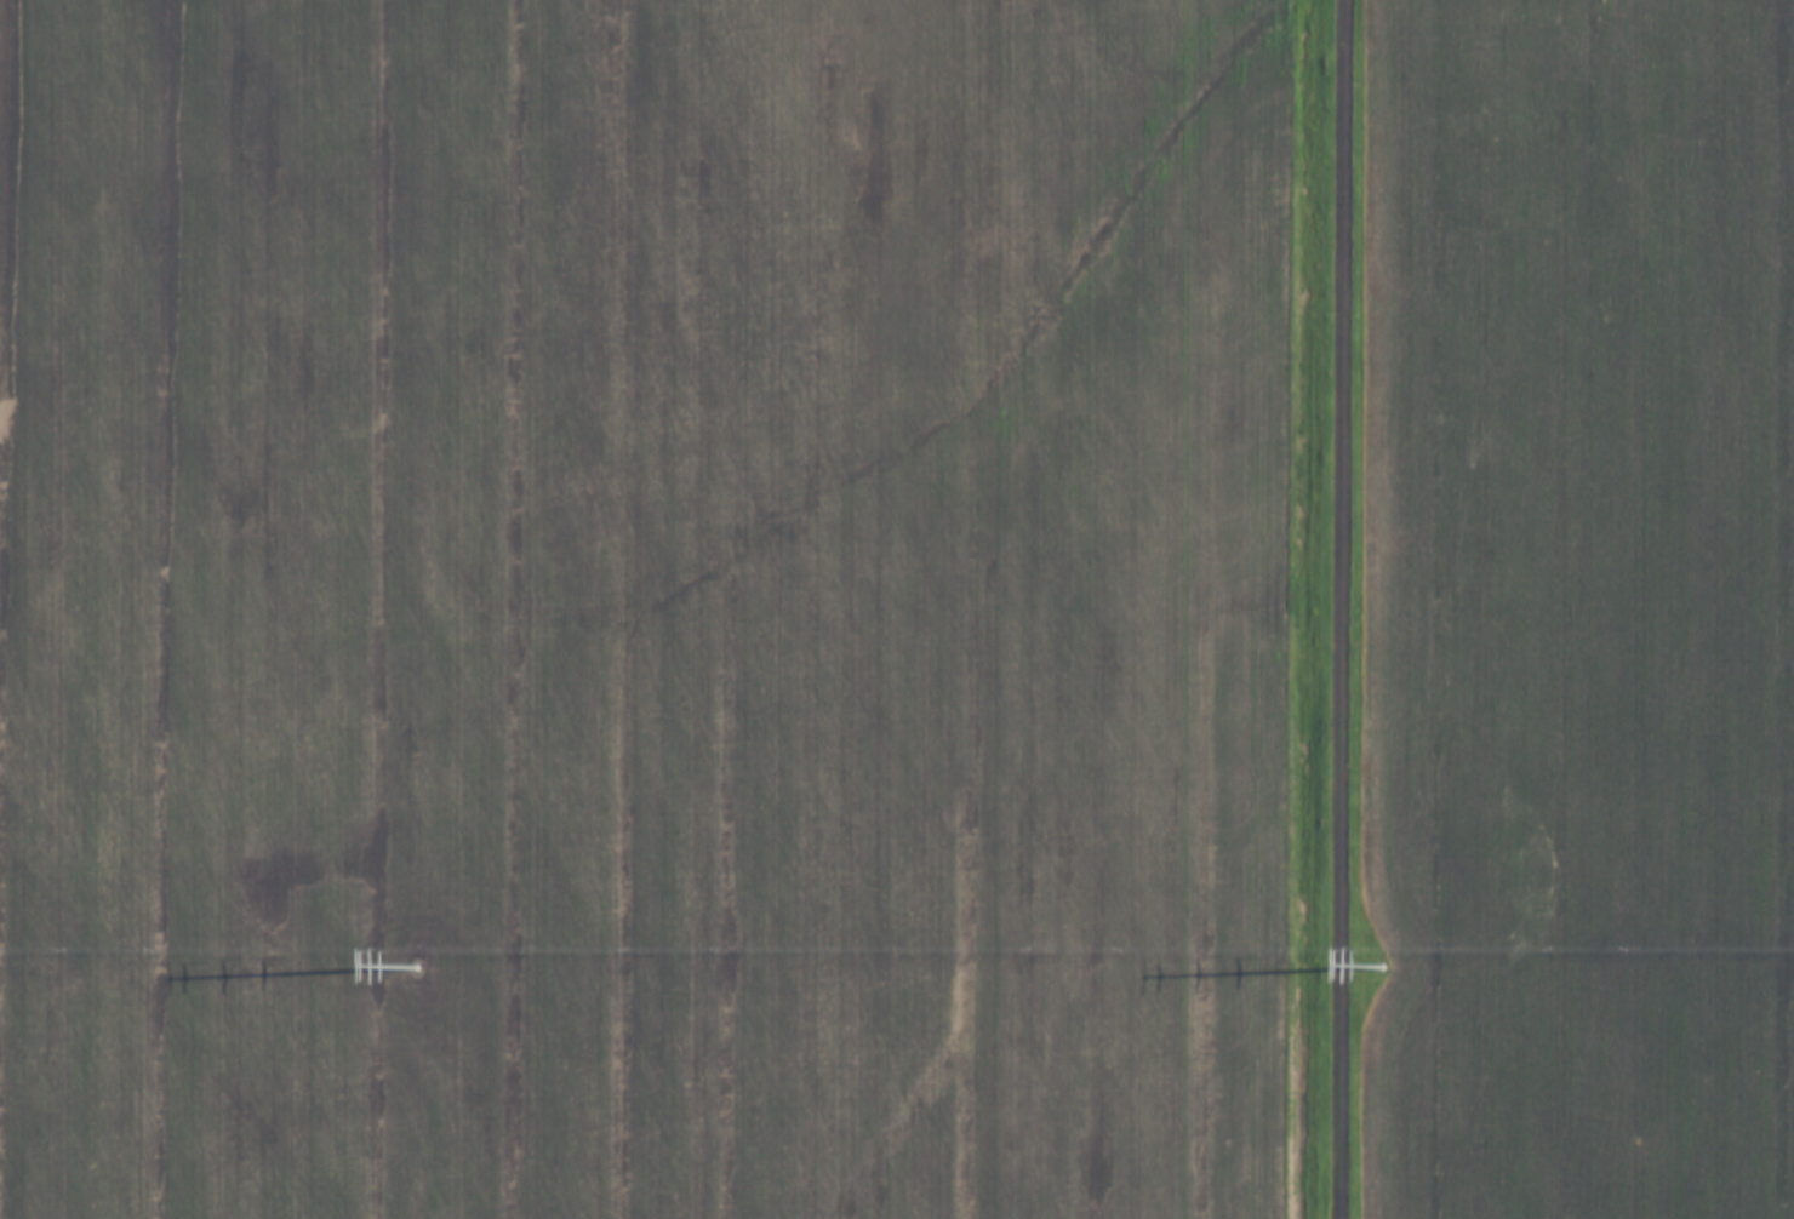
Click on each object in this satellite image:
road: (1347, 609)
power tower: (417, 967)
power tower: (1381, 967)

